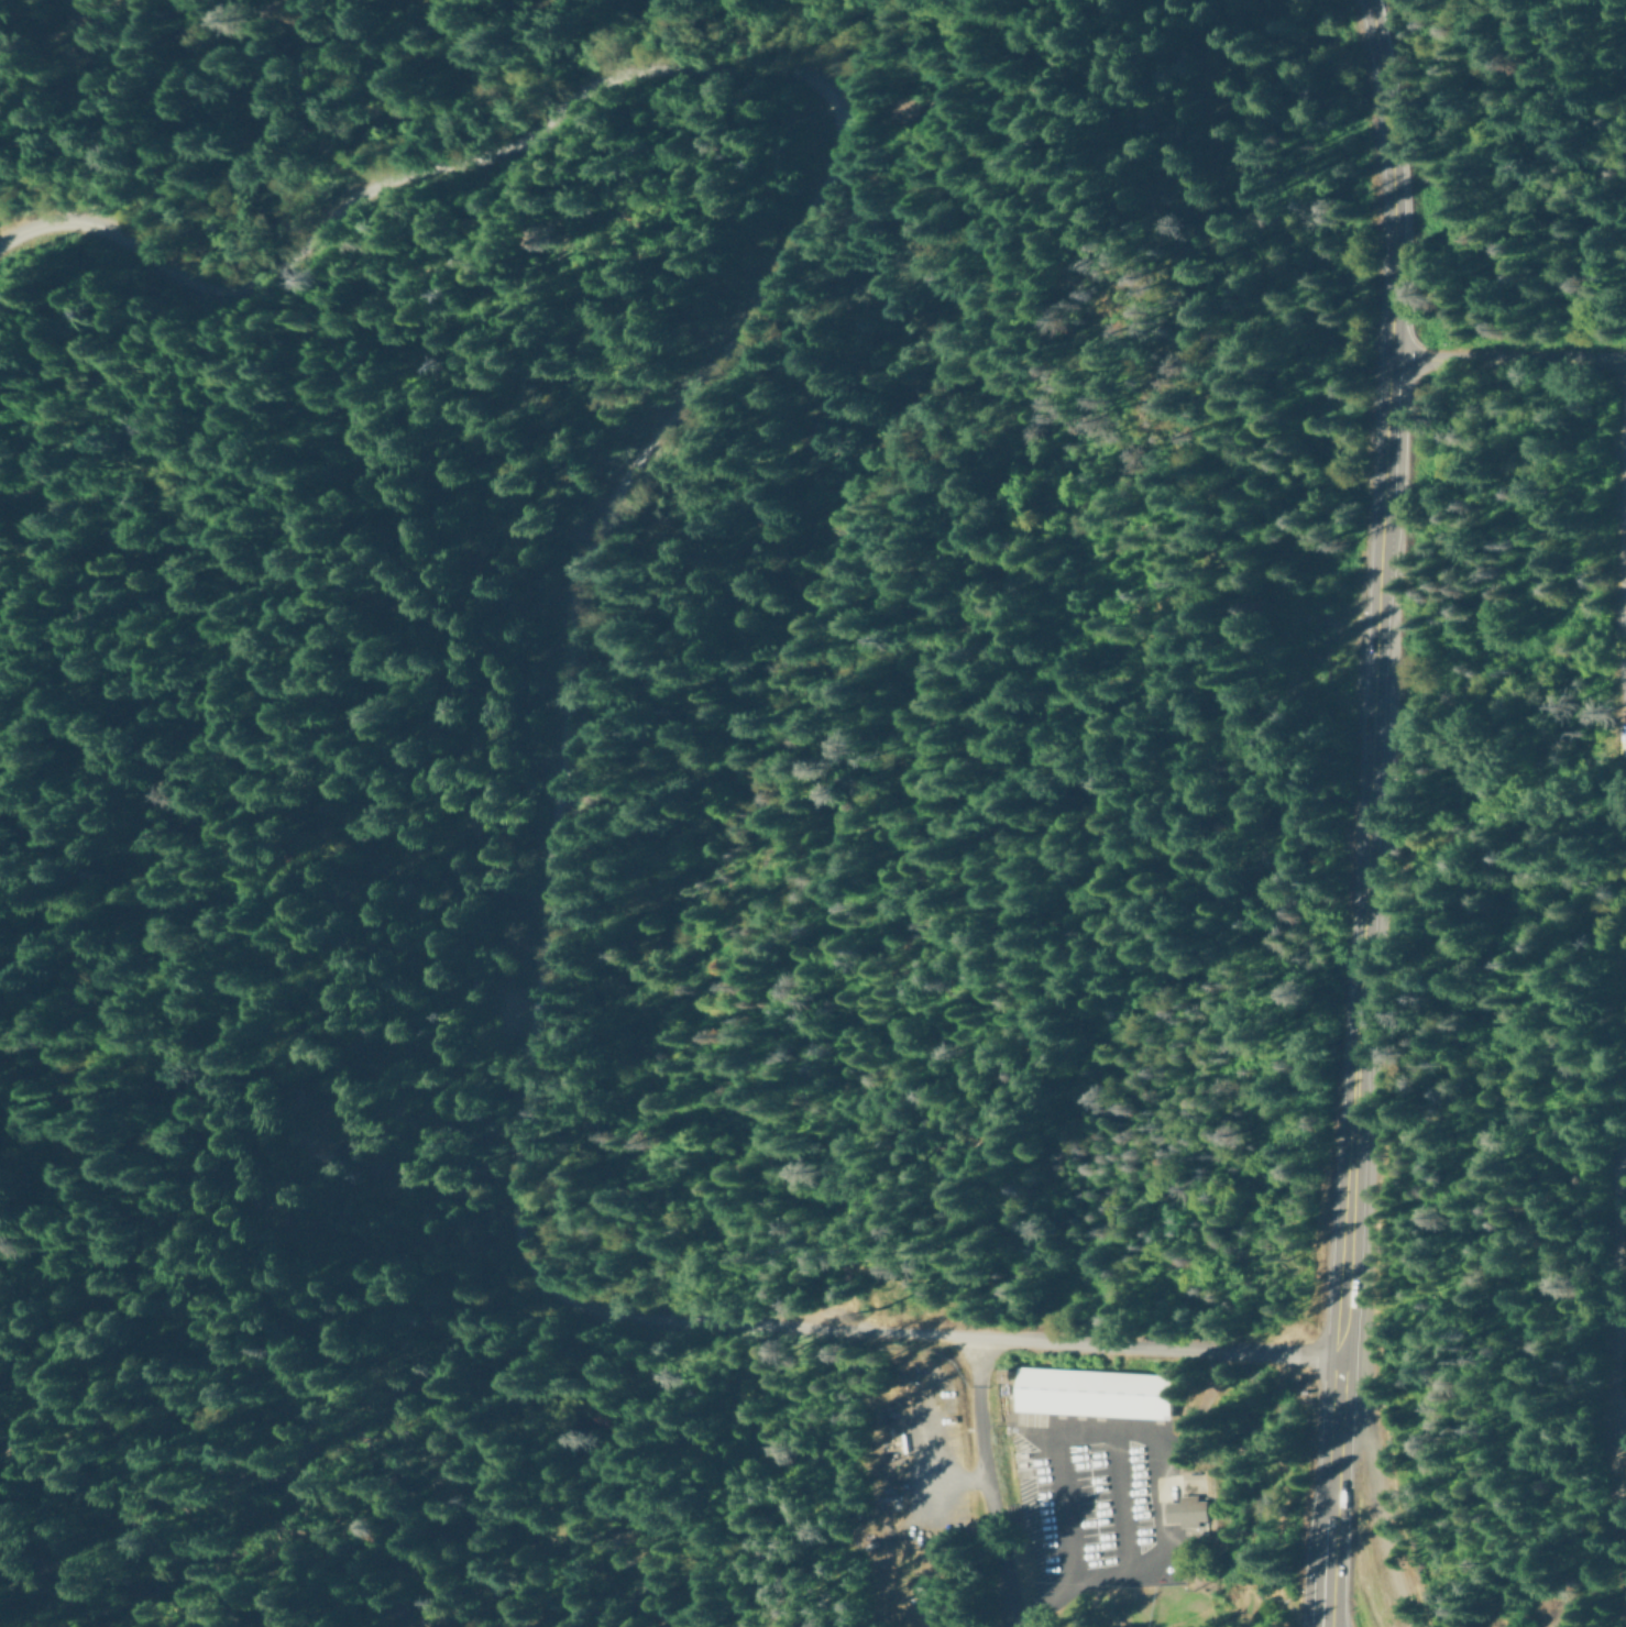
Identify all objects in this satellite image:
road: (52, 3)
road: (70, 187)
road: (1509, 363)
road: (641, 439)
road: (1085, 696)
building: (1624, 748)
road: (1369, 812)
road: (1035, 1002)
road: (1152, 1349)
building: (1091, 1394)
road: (535, 1467)
road: (986, 1483)
road: (1286, 1489)
building: (1185, 1513)

